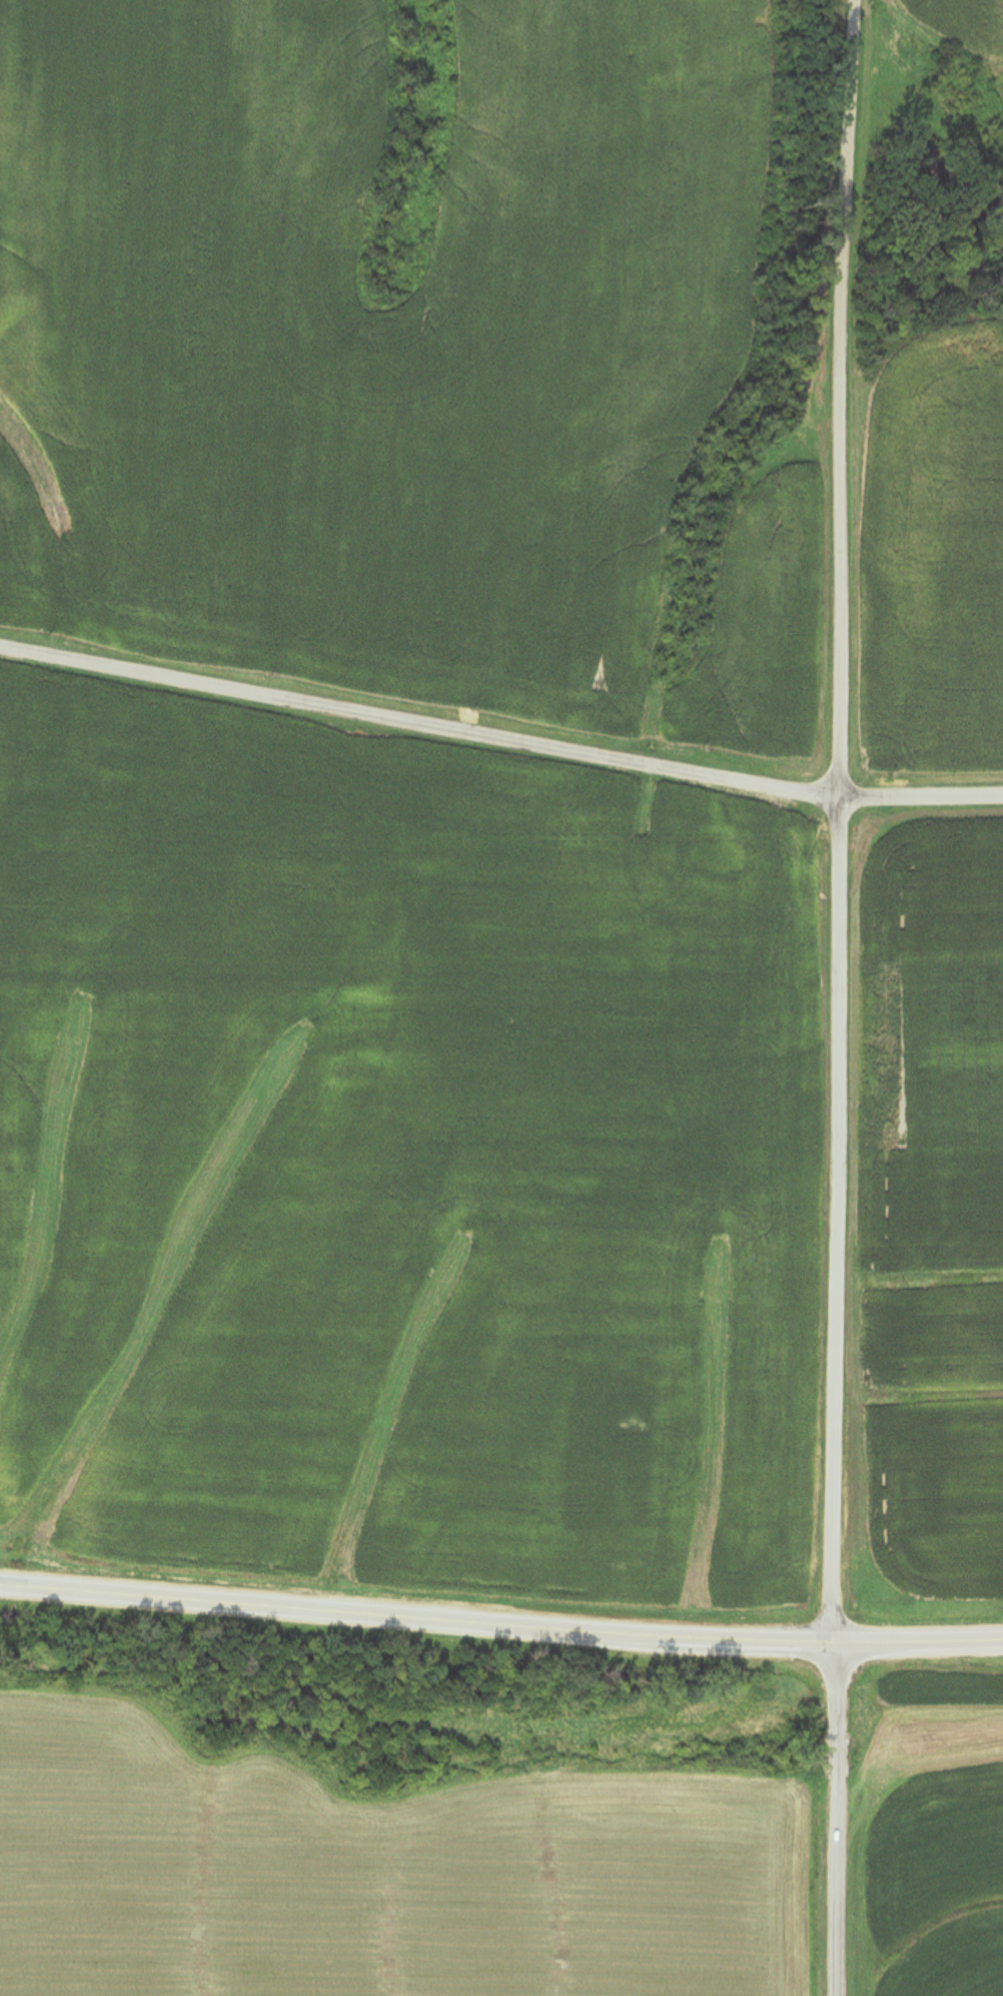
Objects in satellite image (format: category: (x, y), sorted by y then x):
road: (499, 734)
road: (840, 819)
road: (416, 1616)
road: (918, 1638)
road: (832, 1817)

